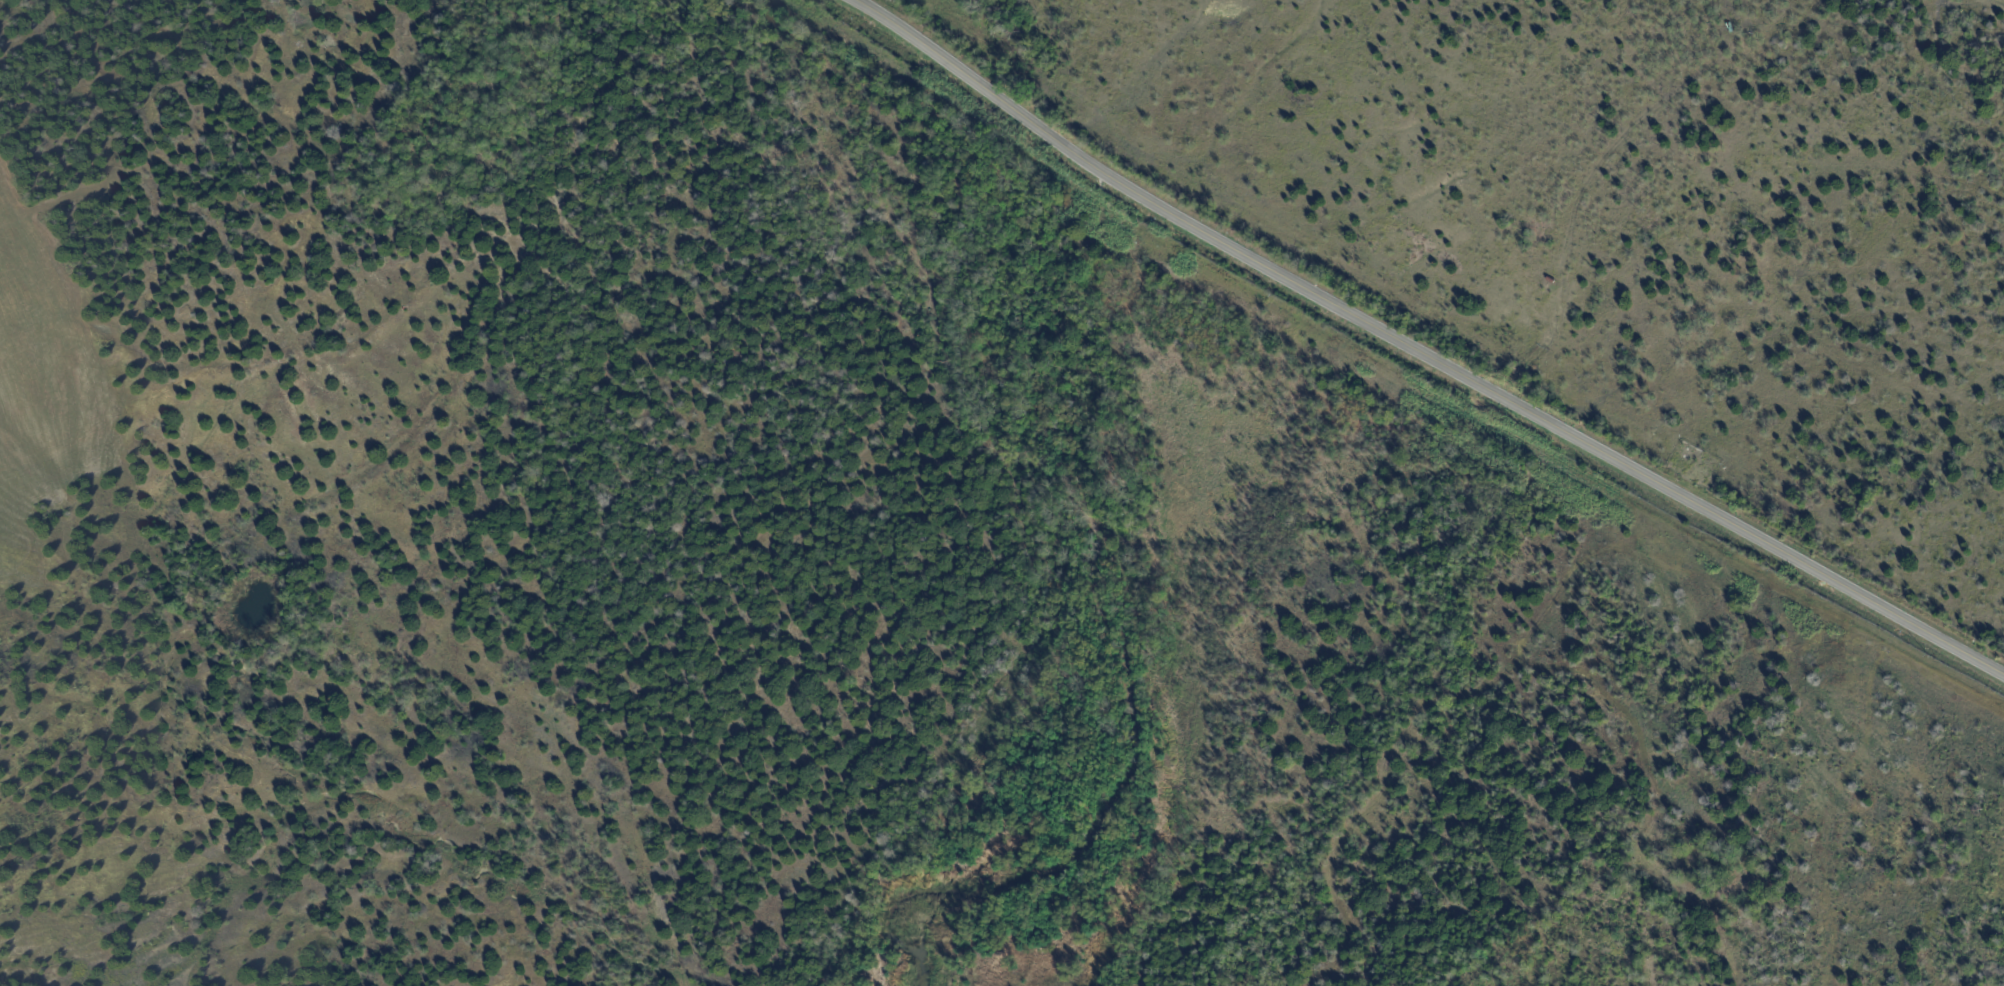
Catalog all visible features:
road: (1419, 347)

